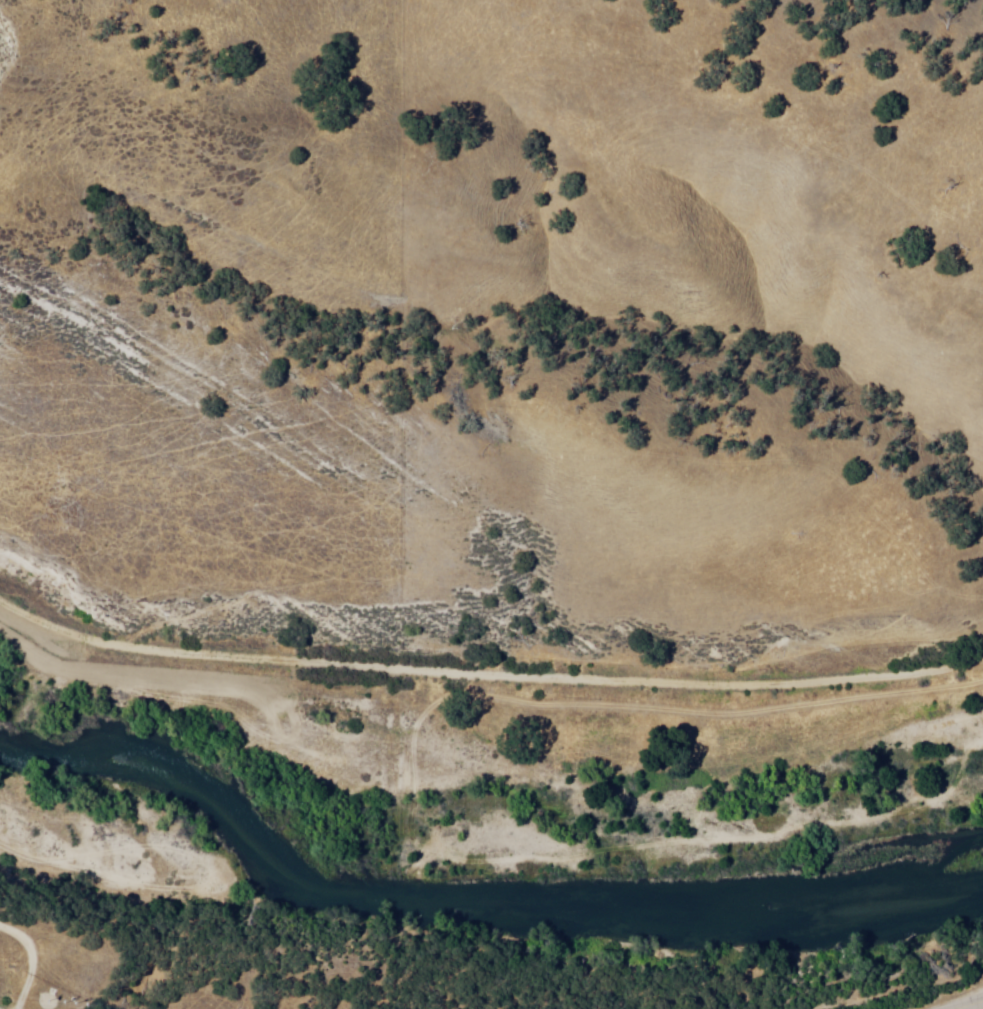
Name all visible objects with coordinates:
road: (488, 670)
river: (100, 760)
river: (583, 861)
road: (976, 1007)

